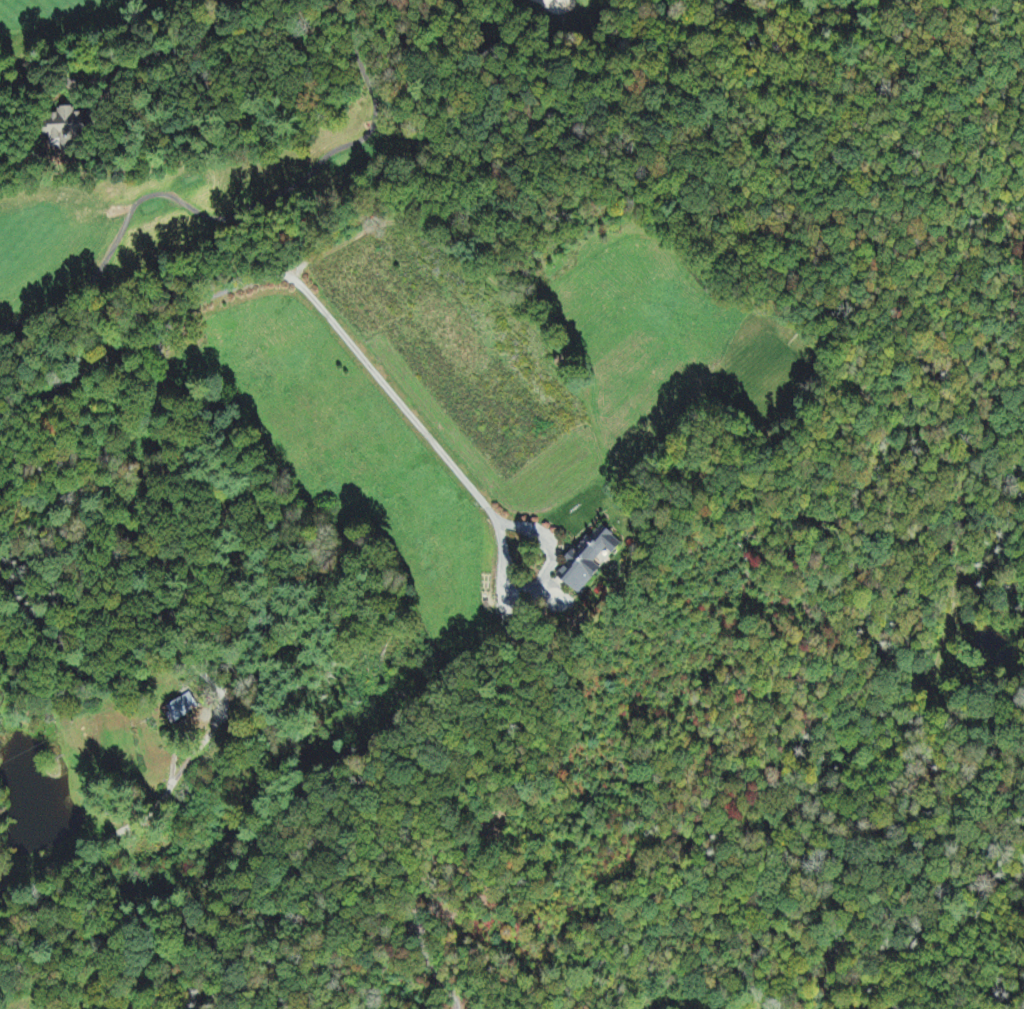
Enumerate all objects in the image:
park: (88, 21)
road: (94, 81)
building: (68, 129)
park: (242, 187)
building: (591, 561)
building: (182, 709)

